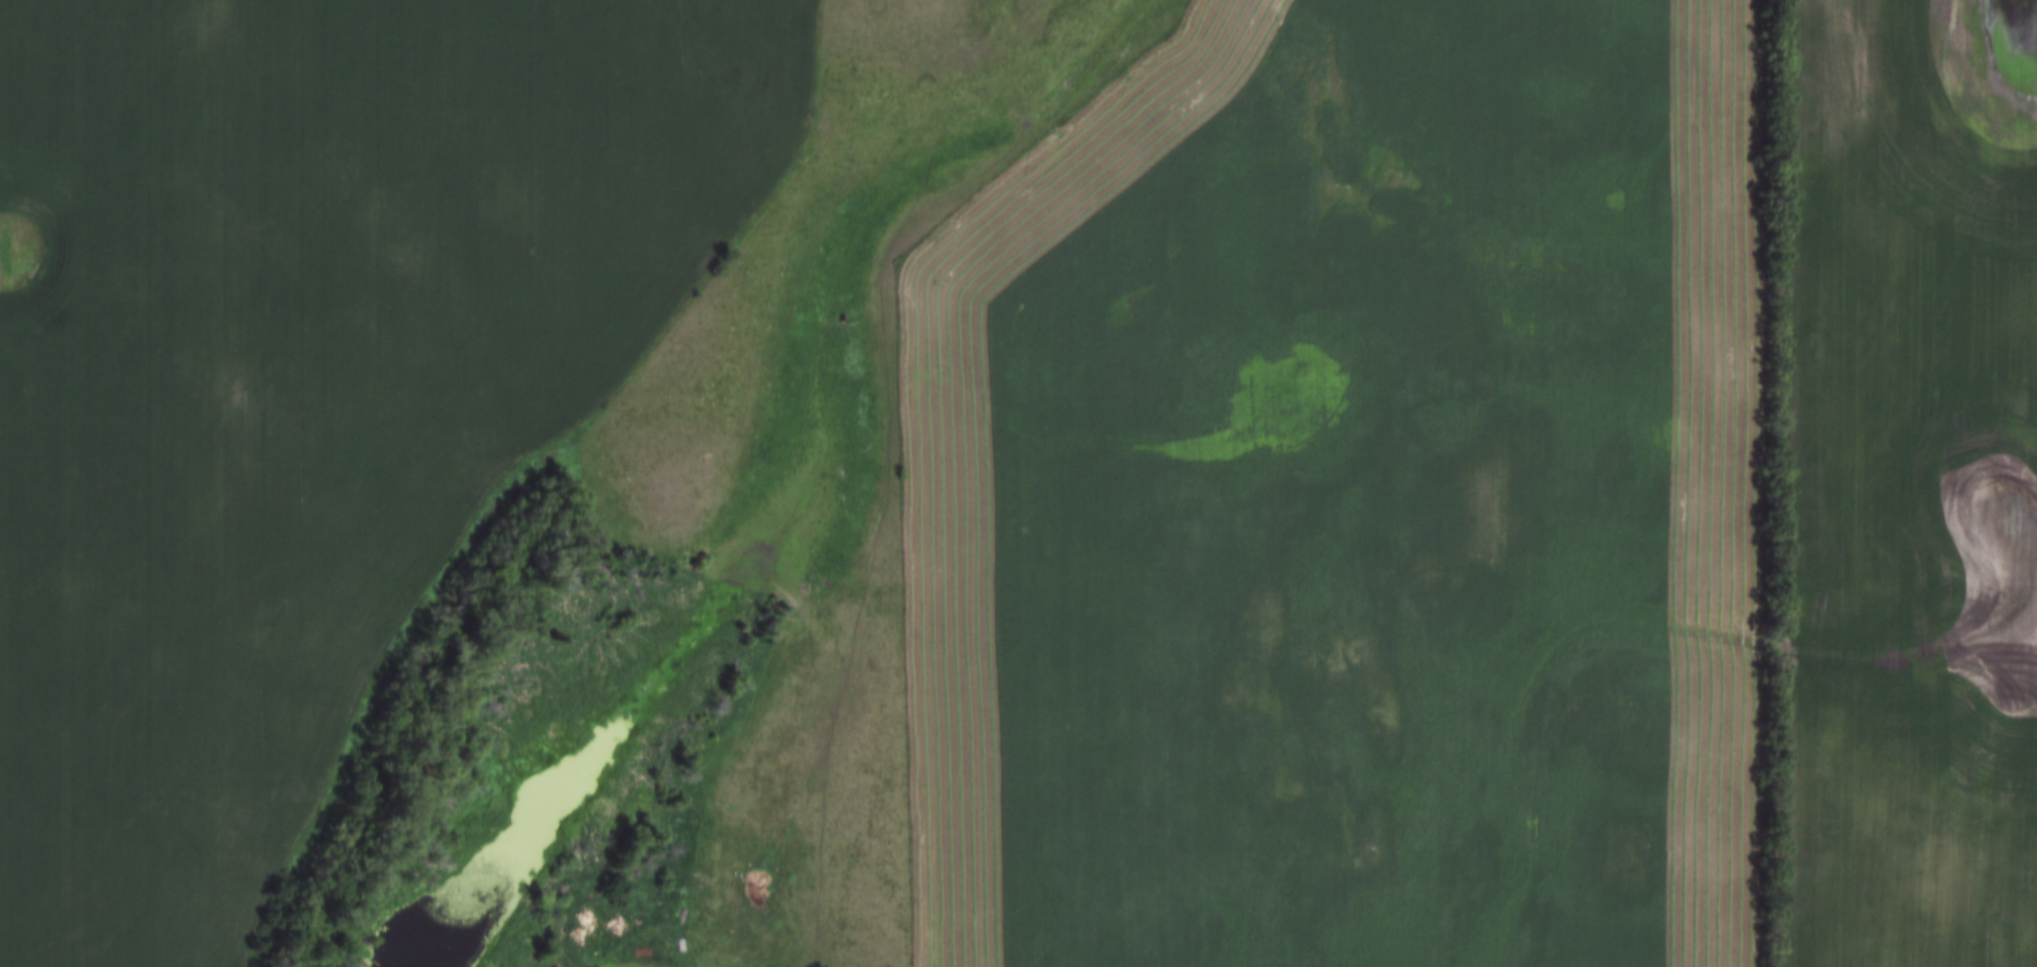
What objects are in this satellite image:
road: (883, 610)
building: (704, 866)

